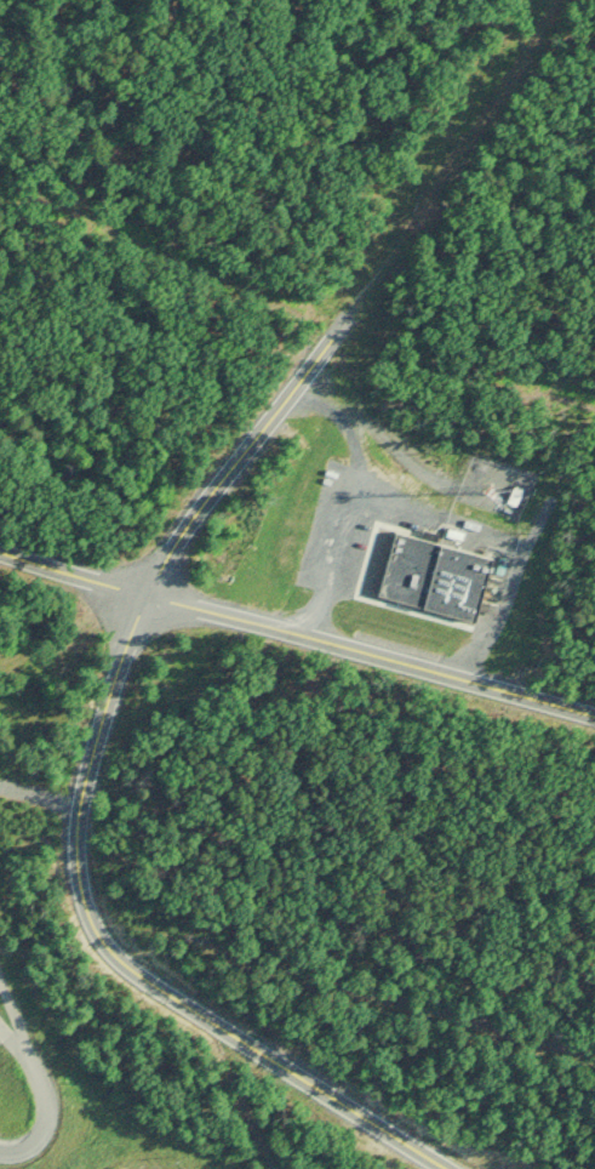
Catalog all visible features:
road: (454, 156)
road: (519, 537)
road: (344, 563)
building: (444, 568)
road: (296, 628)
road: (80, 802)
road: (18, 1040)
road: (39, 1068)

